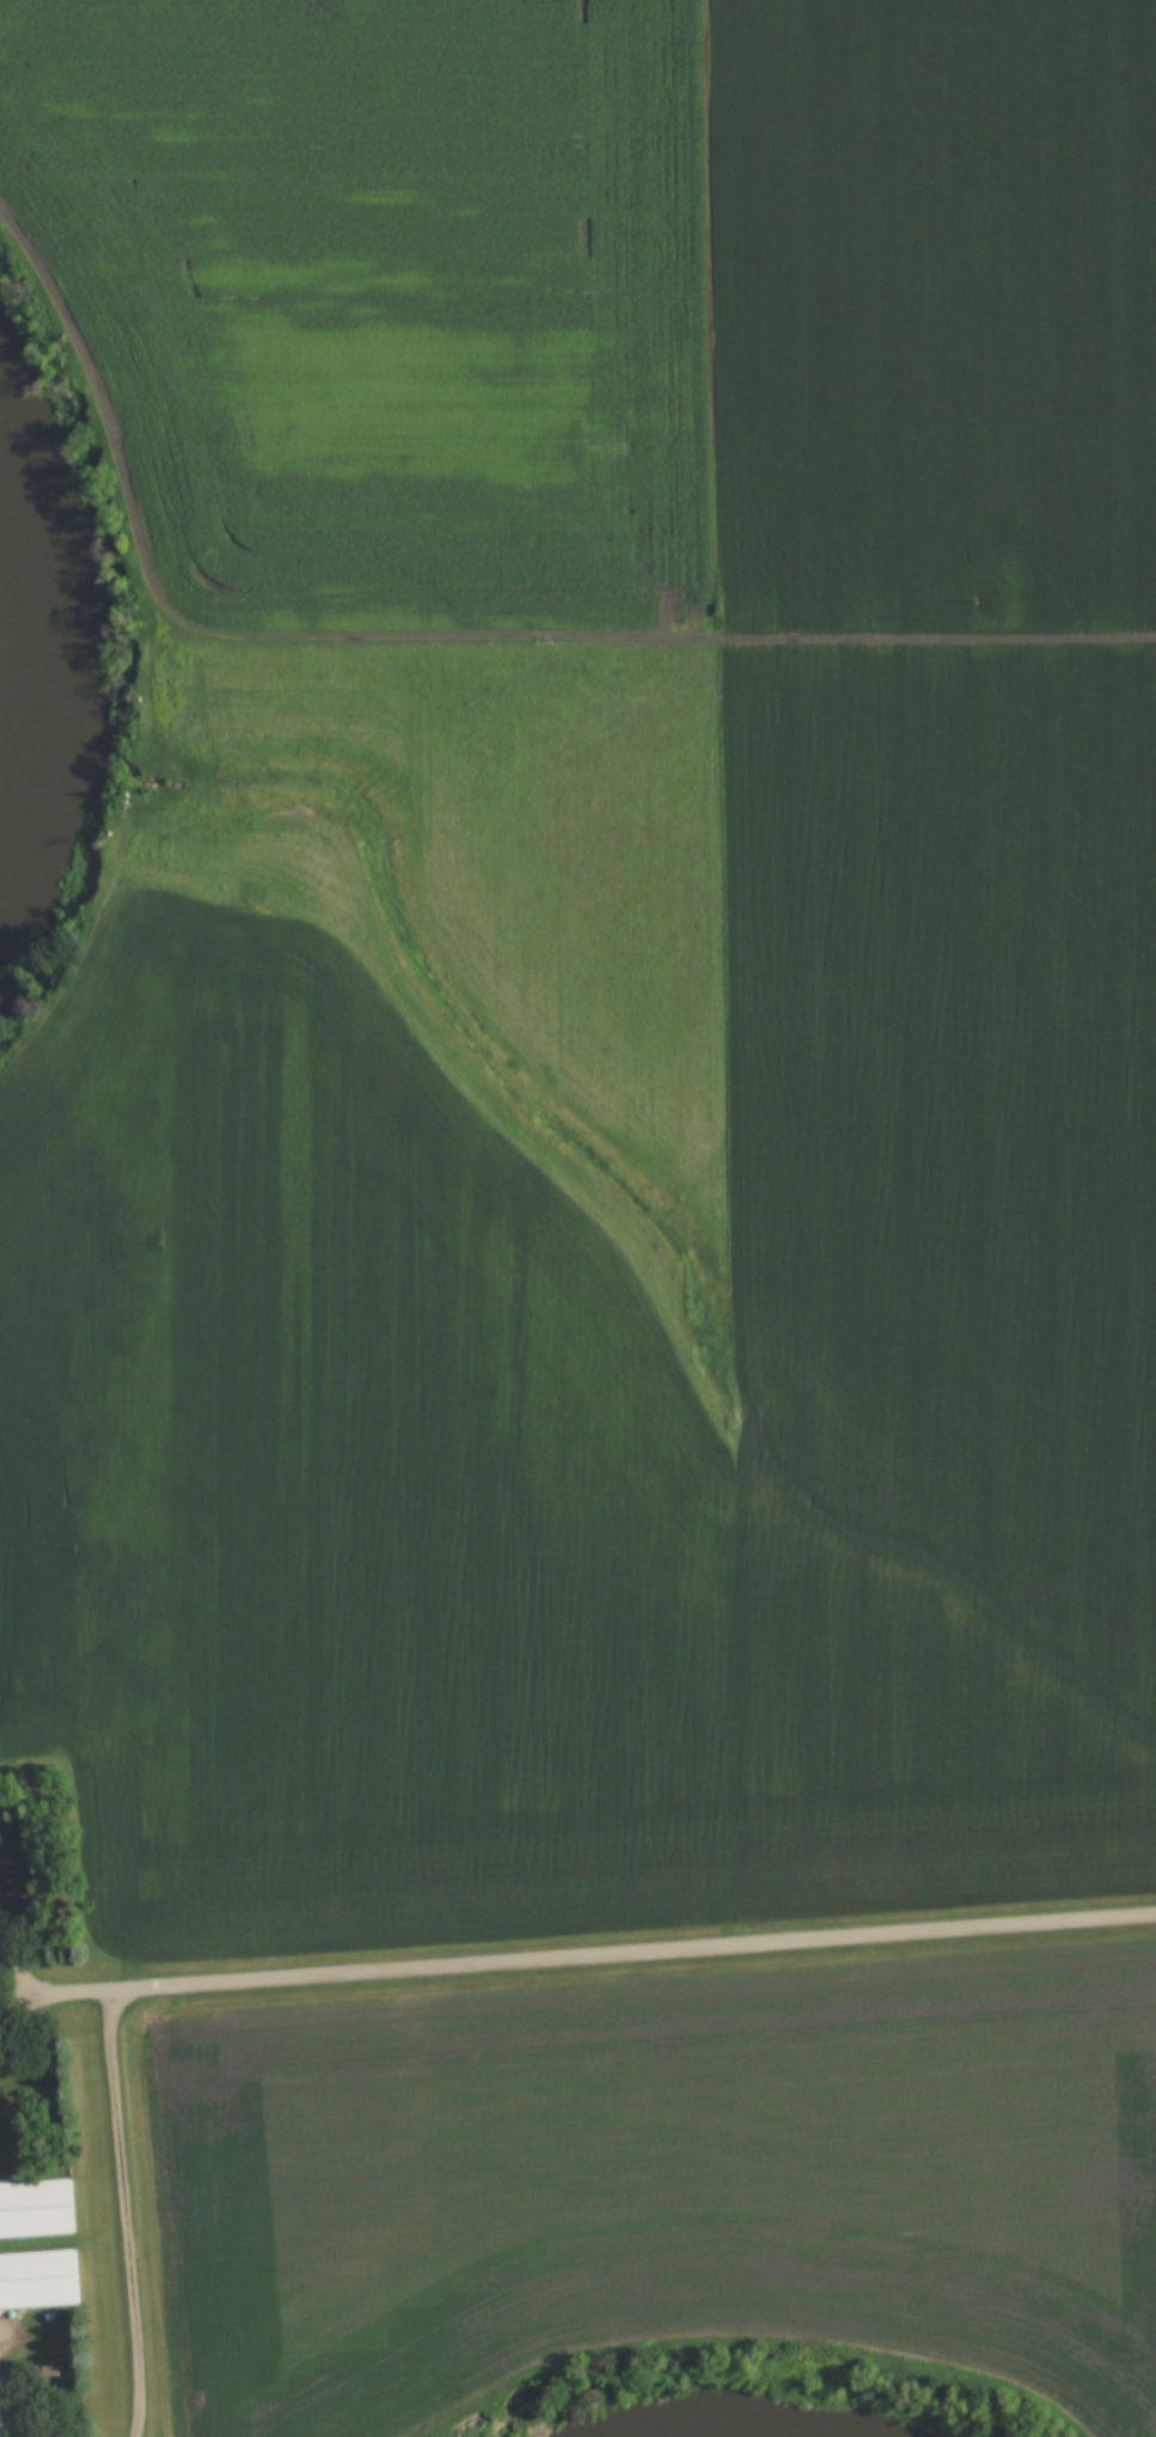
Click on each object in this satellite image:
road: (662, 628)
river: (49, 680)
road: (574, 1947)
building: (36, 2280)

